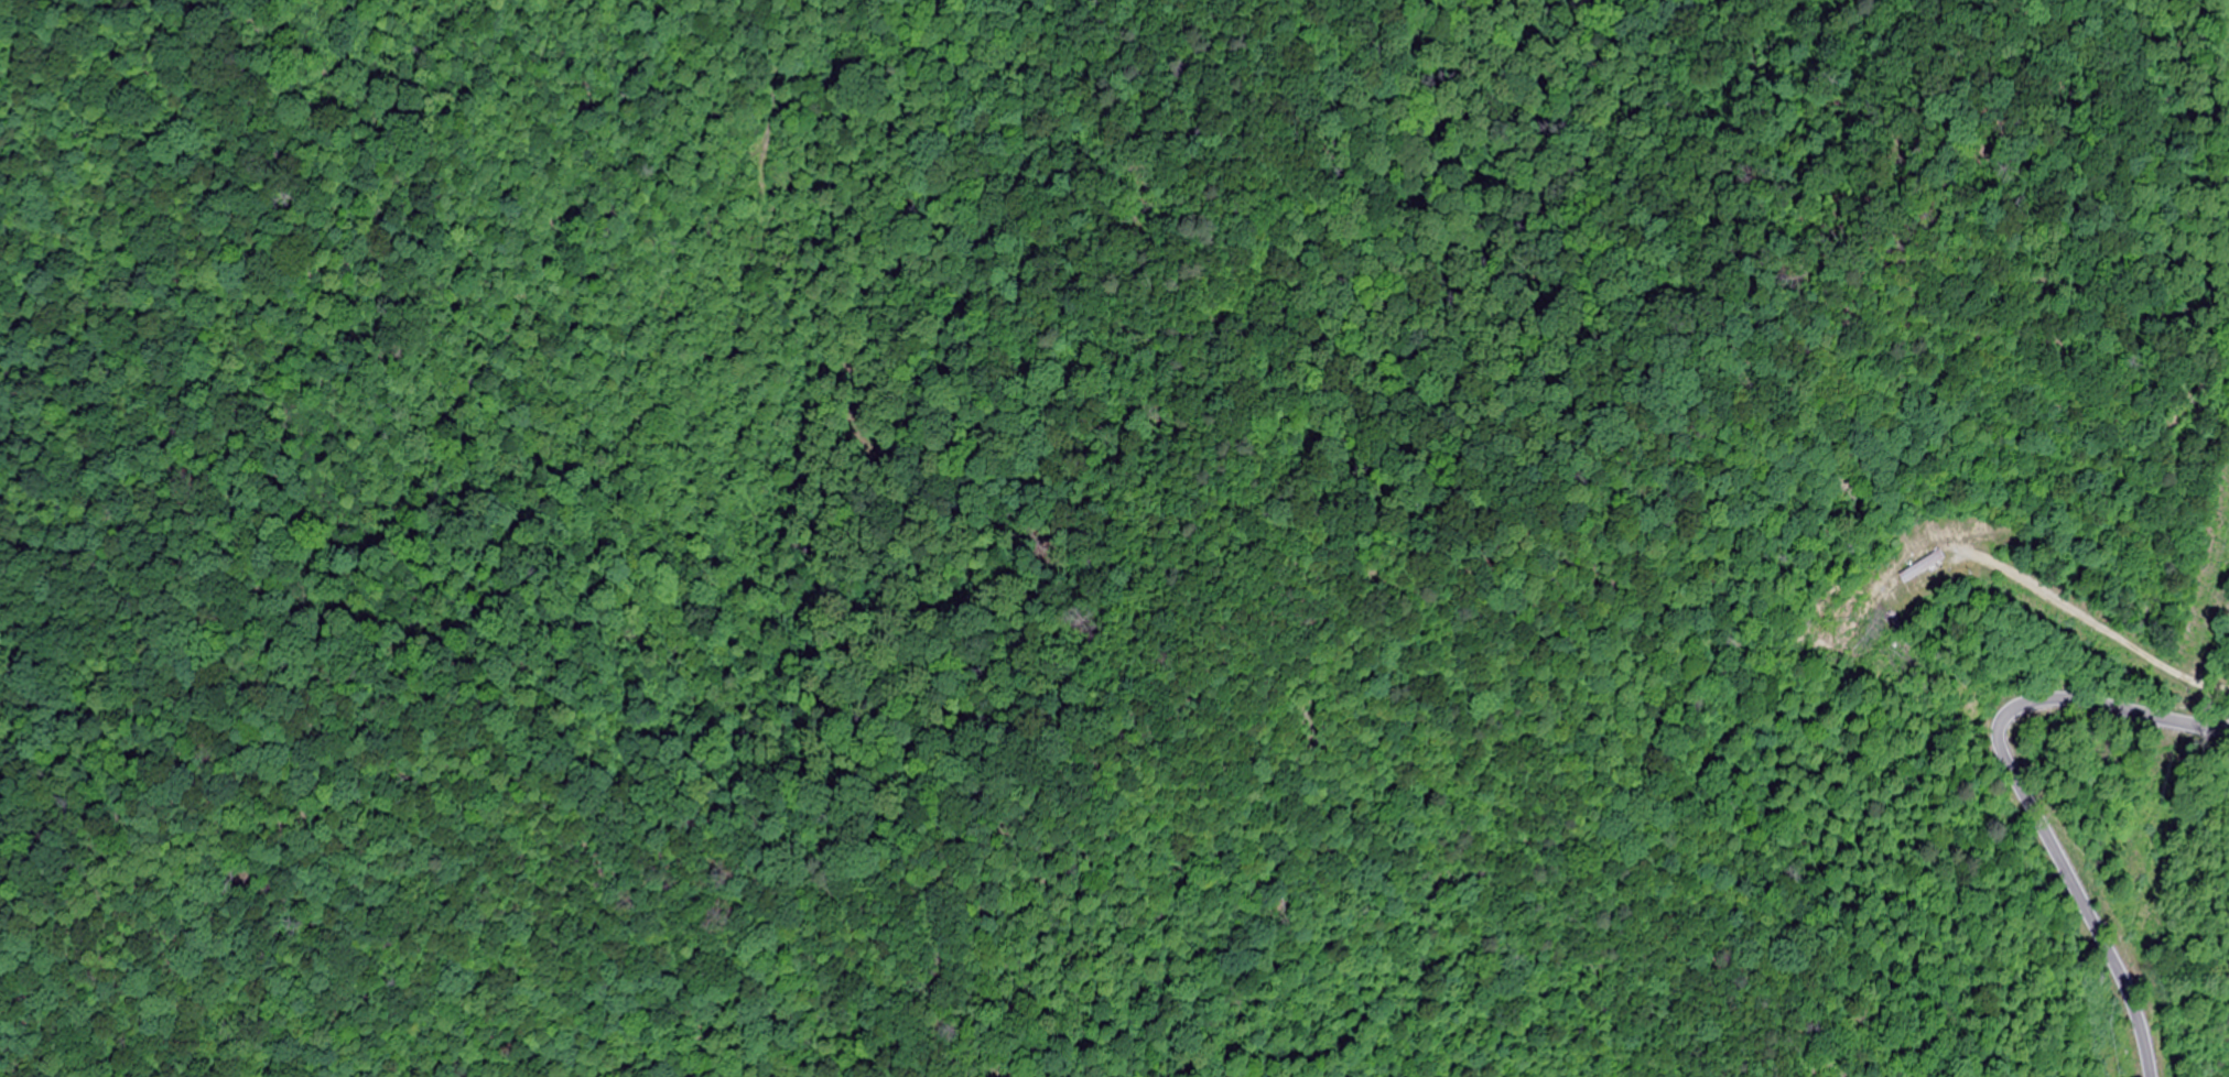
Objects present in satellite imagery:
road: (2033, 798)

